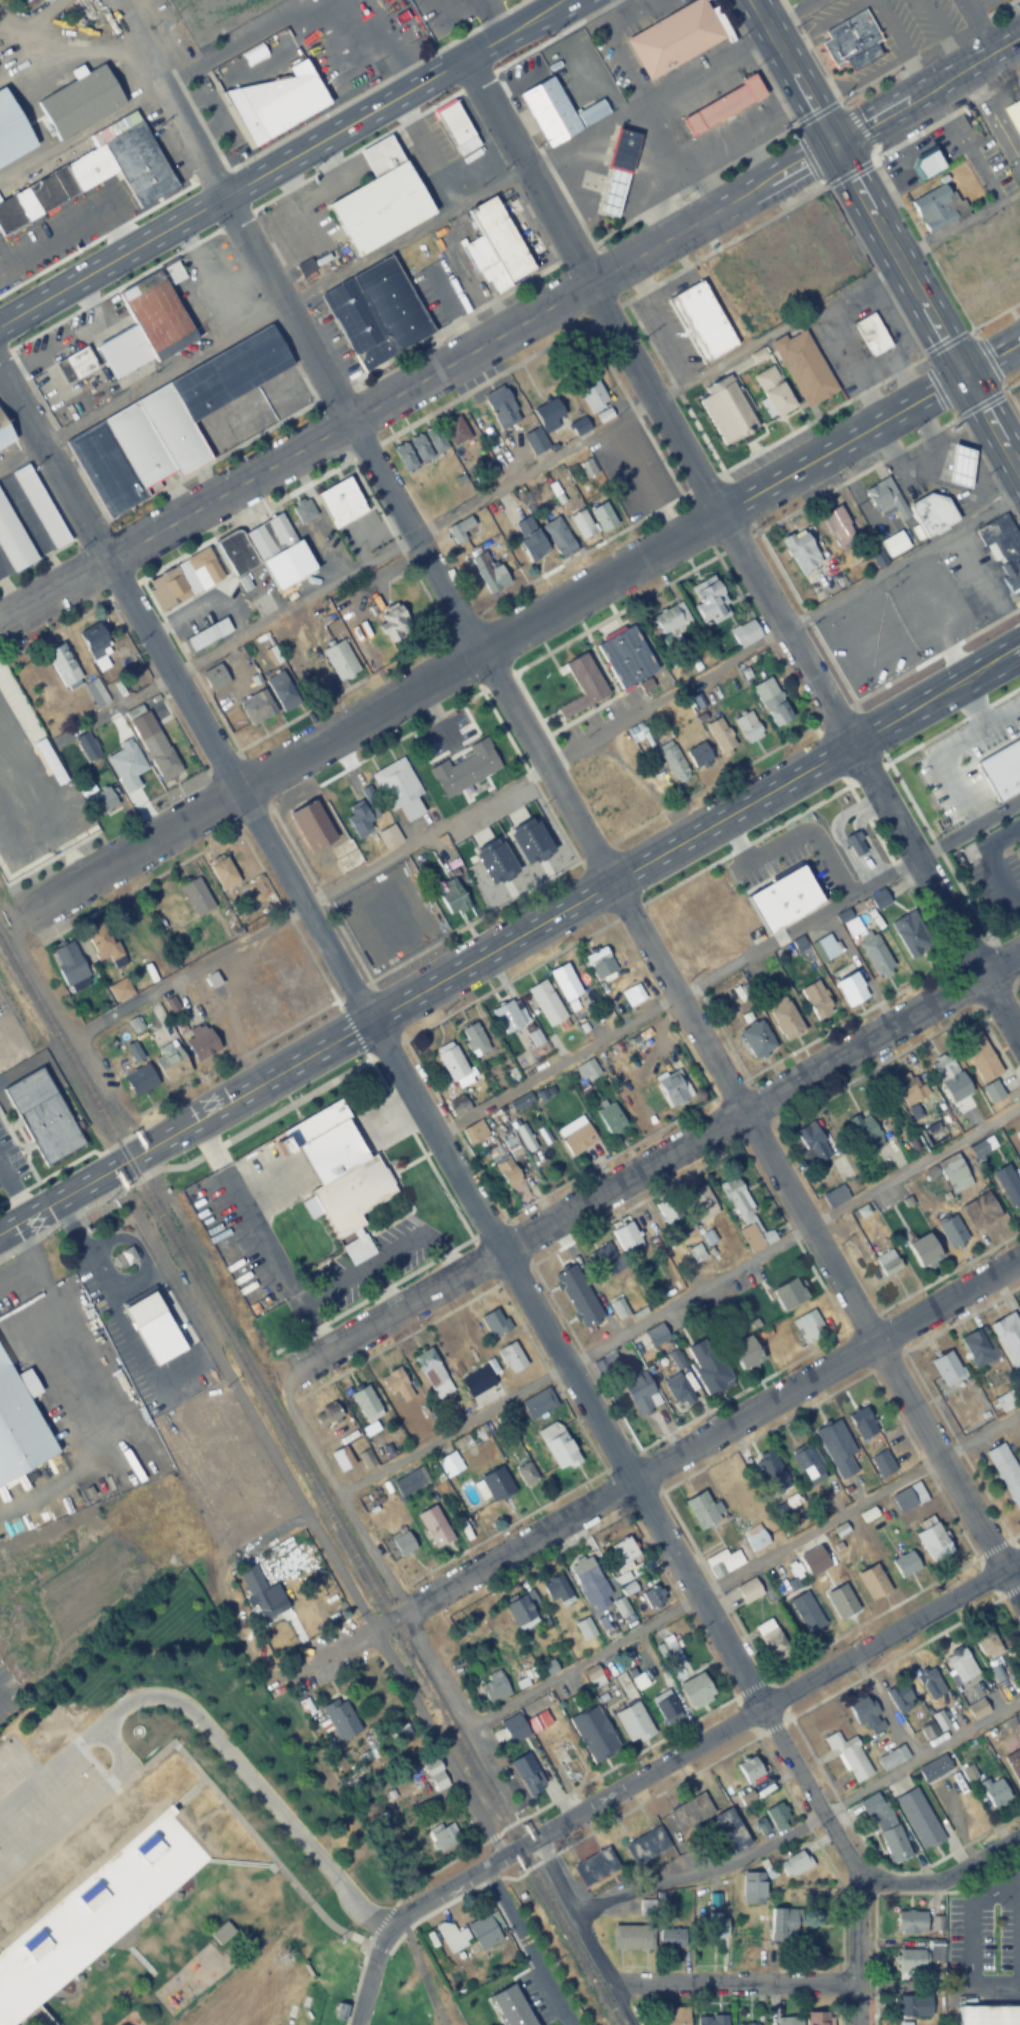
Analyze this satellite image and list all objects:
road: (977, 26)
road: (514, 28)
building: (675, 37)
building: (852, 39)
road: (791, 72)
road: (925, 90)
building: (80, 100)
road: (841, 103)
building: (276, 104)
building: (724, 104)
building: (557, 110)
road: (816, 111)
road: (943, 116)
building: (1014, 116)
building: (457, 128)
road: (795, 129)
road: (857, 129)
building: (12, 131)
traffic signals: (830, 144)
road: (809, 160)
building: (926, 164)
road: (527, 168)
building: (95, 172)
road: (846, 172)
building: (617, 173)
road: (848, 178)
road: (232, 190)
building: (381, 199)
building: (1017, 207)
building: (933, 208)
road: (710, 213)
road: (427, 223)
road: (922, 243)
building: (494, 247)
road: (715, 247)
building: (949, 249)
road: (892, 255)
building: (1011, 268)
road: (874, 269)
building: (980, 300)
road: (284, 309)
building: (158, 312)
building: (377, 312)
road: (993, 315)
building: (702, 319)
building: (872, 331)
road: (938, 334)
road: (945, 343)
building: (124, 350)
building: (757, 352)
road: (989, 354)
building: (79, 361)
road: (924, 361)
road: (989, 361)
building: (804, 365)
traffic signals: (959, 371)
road: (935, 386)
building: (774, 388)
road: (675, 389)
building: (591, 394)
road: (656, 401)
road: (980, 401)
road: (1011, 401)
building: (501, 407)
building: (725, 408)
road: (981, 408)
road: (949, 413)
road: (820, 414)
building: (550, 415)
road: (350, 420)
building: (171, 421)
building: (580, 427)
building: (456, 430)
building: (4, 436)
building: (435, 440)
road: (838, 440)
building: (534, 441)
building: (419, 449)
building: (405, 458)
road: (1011, 462)
building: (961, 466)
road: (55, 467)
road: (988, 470)
road: (853, 474)
gas station: (939, 478)
building: (886, 497)
road: (738, 499)
building: (341, 501)
building: (40, 506)
building: (302, 511)
building: (932, 512)
building: (602, 517)
building: (581, 524)
building: (837, 524)
building: (461, 531)
building: (558, 538)
building: (530, 539)
building: (13, 540)
building: (895, 544)
building: (258, 545)
building: (802, 551)
building: (1001, 551)
building: (203, 568)
building: (489, 572)
building: (169, 587)
road: (55, 589)
building: (711, 601)
road: (804, 614)
building: (671, 620)
building: (394, 624)
building: (745, 633)
building: (207, 634)
building: (97, 645)
road: (933, 653)
building: (340, 660)
road: (804, 661)
building: (62, 664)
building: (214, 677)
building: (304, 677)
building: (582, 686)
building: (282, 690)
building: (772, 701)
building: (256, 707)
road: (968, 708)
road: (362, 712)
road: (950, 724)
building: (748, 727)
building: (636, 735)
building: (721, 737)
building: (1015, 737)
building: (86, 749)
road: (949, 752)
building: (160, 755)
building: (699, 756)
road: (546, 762)
building: (673, 762)
building: (466, 769)
building: (128, 772)
road: (867, 772)
building: (1010, 775)
building: (398, 789)
building: (97, 797)
road: (868, 800)
building: (517, 812)
building: (362, 821)
road: (869, 824)
building: (313, 827)
road: (1000, 831)
building: (388, 838)
road: (748, 838)
building: (462, 841)
building: (854, 841)
road: (843, 843)
road: (866, 844)
building: (508, 862)
building: (765, 870)
building: (223, 872)
road: (995, 872)
building: (728, 894)
building: (196, 896)
building: (451, 896)
road: (966, 896)
road: (1014, 898)
building: (780, 901)
road: (573, 902)
building: (692, 922)
road: (1001, 927)
building: (908, 936)
building: (104, 941)
building: (824, 948)
building: (876, 955)
building: (68, 962)
building: (599, 962)
road: (1005, 962)
building: (700, 966)
road: (727, 969)
building: (565, 982)
road: (1013, 983)
building: (119, 989)
building: (851, 989)
building: (632, 995)
building: (816, 999)
building: (545, 1003)
road: (683, 1012)
building: (506, 1017)
building: (786, 1019)
road: (74, 1032)
building: (757, 1038)
building: (473, 1039)
building: (201, 1041)
building: (979, 1056)
building: (171, 1061)
building: (453, 1065)
building: (943, 1067)
building: (140, 1079)
building: (672, 1087)
building: (992, 1092)
building: (911, 1094)
building: (517, 1104)
building: (42, 1115)
road: (258, 1119)
building: (1019, 1125)
building: (865, 1132)
building: (933, 1133)
building: (577, 1138)
building: (811, 1144)
road: (647, 1165)
building: (507, 1172)
building: (953, 1172)
building: (332, 1175)
road: (135, 1176)
building: (1007, 1185)
road: (63, 1196)
building: (834, 1196)
building: (701, 1202)
building: (665, 1212)
building: (979, 1212)
building: (745, 1216)
road: (62, 1218)
building: (951, 1232)
building: (625, 1235)
building: (924, 1251)
building: (694, 1252)
building: (604, 1260)
building: (887, 1263)
road: (519, 1284)
building: (789, 1294)
road: (679, 1302)
building: (618, 1307)
road: (960, 1315)
building: (495, 1321)
building: (807, 1326)
building: (154, 1327)
building: (654, 1334)
building: (1008, 1339)
building: (978, 1347)
building: (746, 1352)
building: (510, 1357)
building: (707, 1365)
building: (946, 1368)
building: (432, 1372)
building: (397, 1383)
building: (676, 1387)
building: (640, 1392)
building: (1006, 1401)
building: (366, 1404)
building: (330, 1413)
building: (19, 1423)
building: (862, 1423)
building: (548, 1428)
road: (696, 1444)
road: (958, 1445)
building: (836, 1447)
building: (341, 1458)
building: (808, 1462)
building: (447, 1464)
building: (771, 1471)
building: (1006, 1472)
building: (525, 1473)
railway: (309, 1480)
building: (494, 1484)
road: (336, 1493)
building: (908, 1497)
building: (702, 1510)
road: (309, 1512)
building: (434, 1526)
building: (840, 1530)
road: (1011, 1533)
building: (754, 1538)
building: (932, 1539)
building: (402, 1544)
building: (722, 1562)
building: (905, 1565)
road: (742, 1572)
building: (624, 1582)
building: (872, 1582)
building: (590, 1583)
building: (557, 1590)
building: (748, 1590)
building: (257, 1592)
building: (651, 1596)
building: (841, 1602)
building: (522, 1608)
building: (806, 1613)
building: (584, 1629)
building: (768, 1635)
building: (988, 1645)
road: (333, 1652)
building: (961, 1667)
building: (547, 1668)
building: (1017, 1678)
building: (929, 1684)
building: (494, 1688)
building: (696, 1690)
building: (899, 1699)
building: (666, 1706)
road: (759, 1706)
building: (976, 1709)
building: (862, 1710)
road: (454, 1711)
building: (340, 1719)
building: (633, 1722)
building: (934, 1727)
road: (209, 1734)
building: (594, 1734)
building: (414, 1741)
building: (848, 1757)
building: (891, 1758)
building: (1013, 1761)
road: (189, 1766)
building: (935, 1768)
building: (750, 1769)
road: (687, 1773)
building: (435, 1774)
building: (527, 1774)
building: (994, 1790)
road: (556, 1796)
road: (80, 1804)
building: (875, 1807)
building: (690, 1812)
building: (777, 1815)
building: (916, 1816)
road: (804, 1826)
building: (731, 1829)
building: (441, 1837)
building: (894, 1841)
building: (646, 1846)
building: (149, 1848)
building: (794, 1864)
building: (594, 1866)
road: (944, 1876)
building: (753, 1887)
building: (93, 1895)
road: (573, 1912)
road: (398, 1916)
road: (380, 1919)
building: (910, 1923)
building: (715, 1924)
building: (782, 1924)
building: (221, 1933)
building: (469, 1934)
building: (671, 1935)
building: (631, 1936)
building: (38, 1944)
road: (376, 1947)
building: (912, 1960)
road: (416, 1963)
road: (354, 1980)
road: (738, 1981)
road: (624, 2003)
building: (911, 2006)
building: (511, 2007)
road: (839, 2012)
building: (678, 2015)
building: (989, 2015)
building: (818, 2018)
building: (711, 2020)
building: (787, 2021)
building: (747, 2024)

